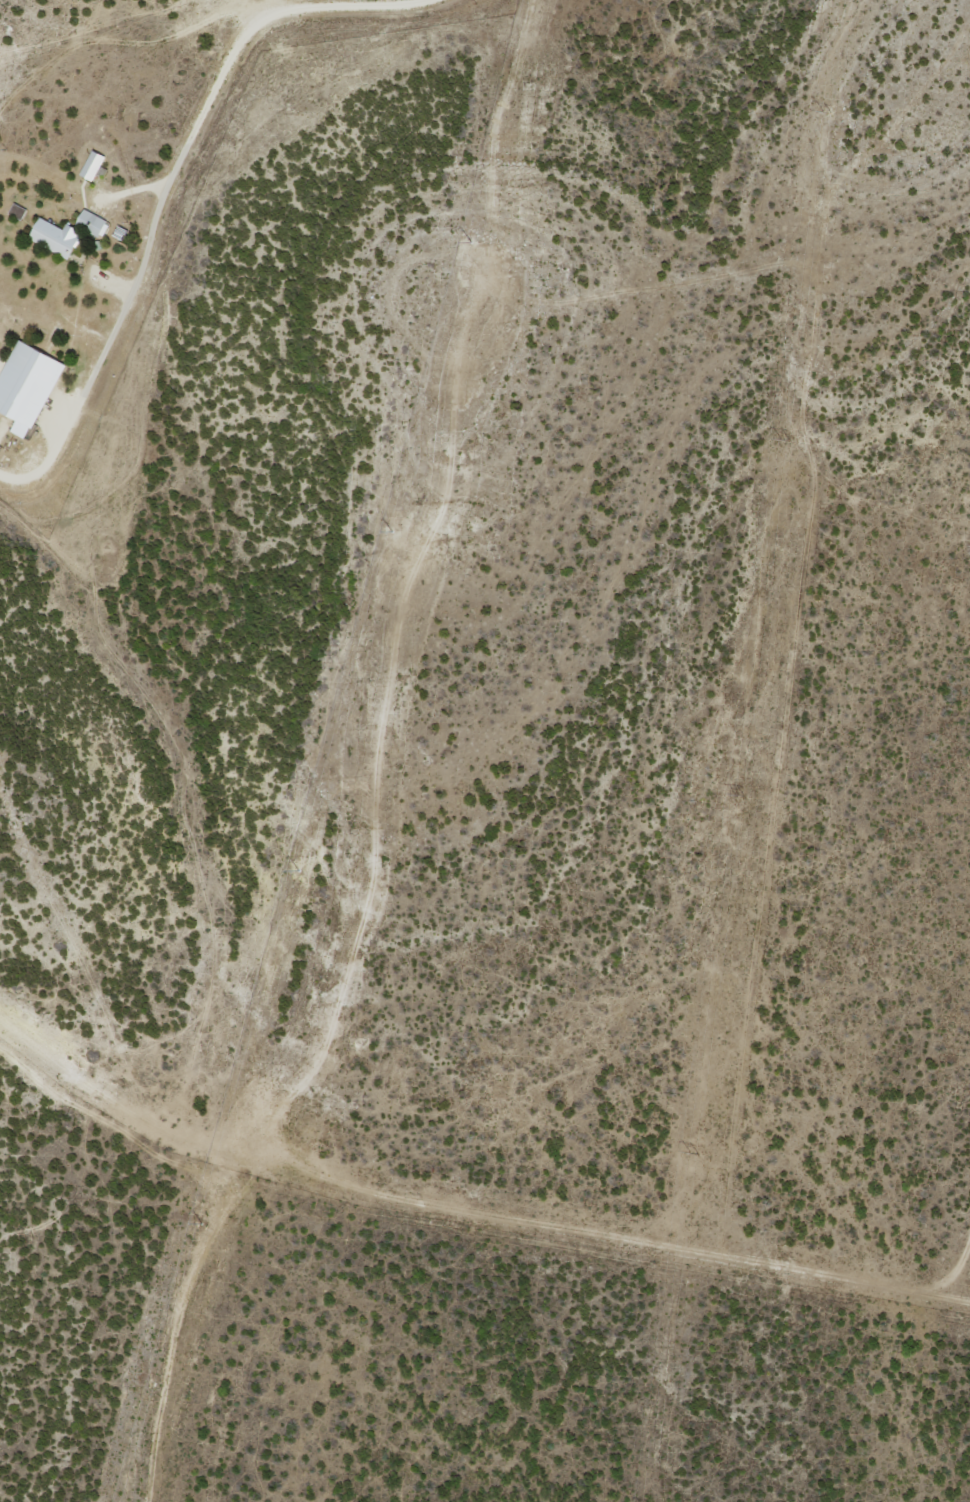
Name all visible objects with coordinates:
road: (238, 59)
power tower: (831, 111)
building: (96, 165)
building: (96, 222)
building: (61, 238)
power tower: (468, 242)
building: (31, 386)
power tower: (788, 438)
power tower: (388, 531)
power tower: (742, 795)
power tower: (288, 878)
power tower: (697, 1153)
power tower: (205, 1223)
road: (462, 1228)

